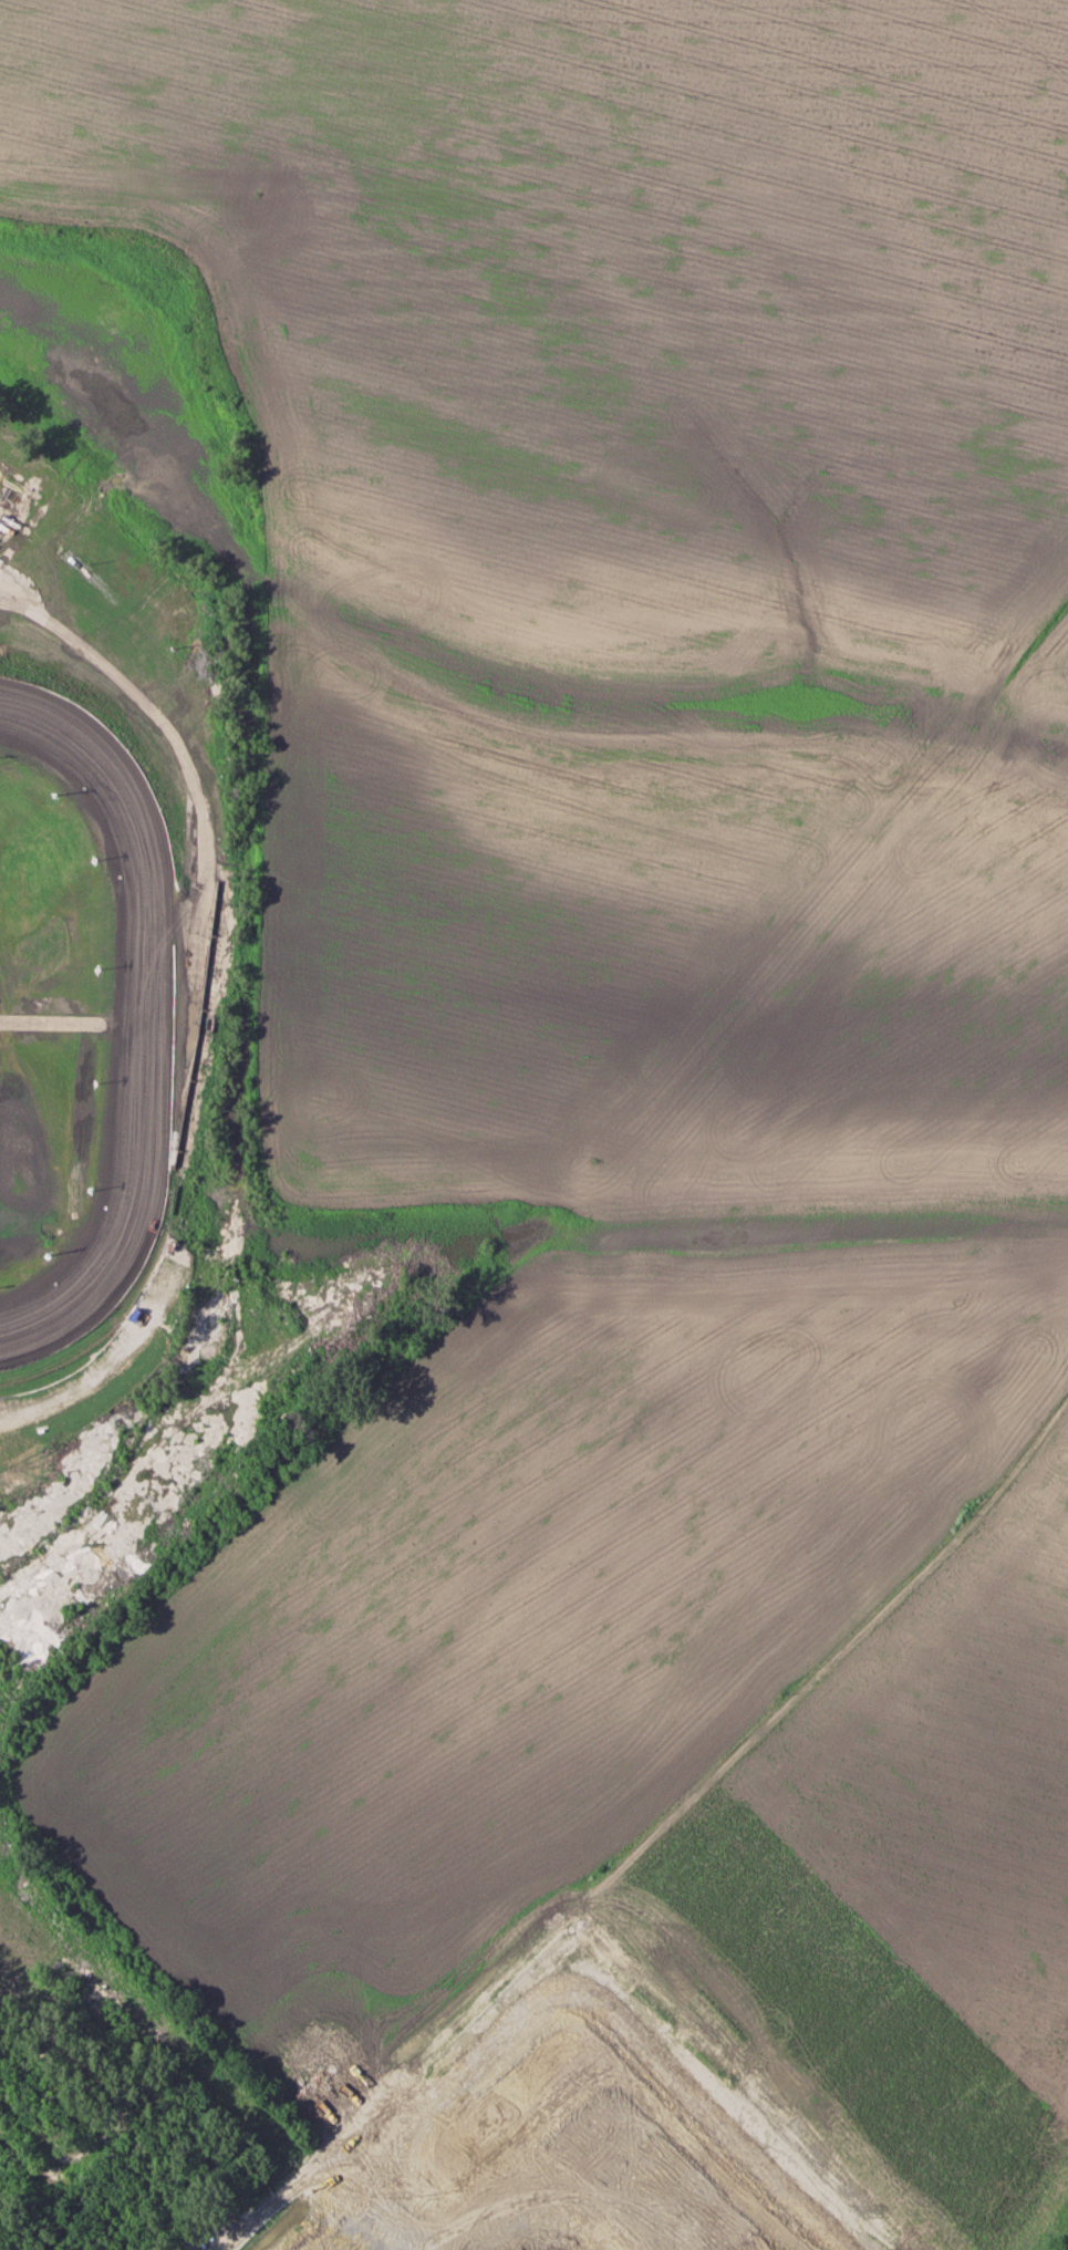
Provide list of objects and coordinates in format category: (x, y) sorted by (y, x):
raceway: (143, 1051)
crop: (626, 1096)
road: (260, 2211)

